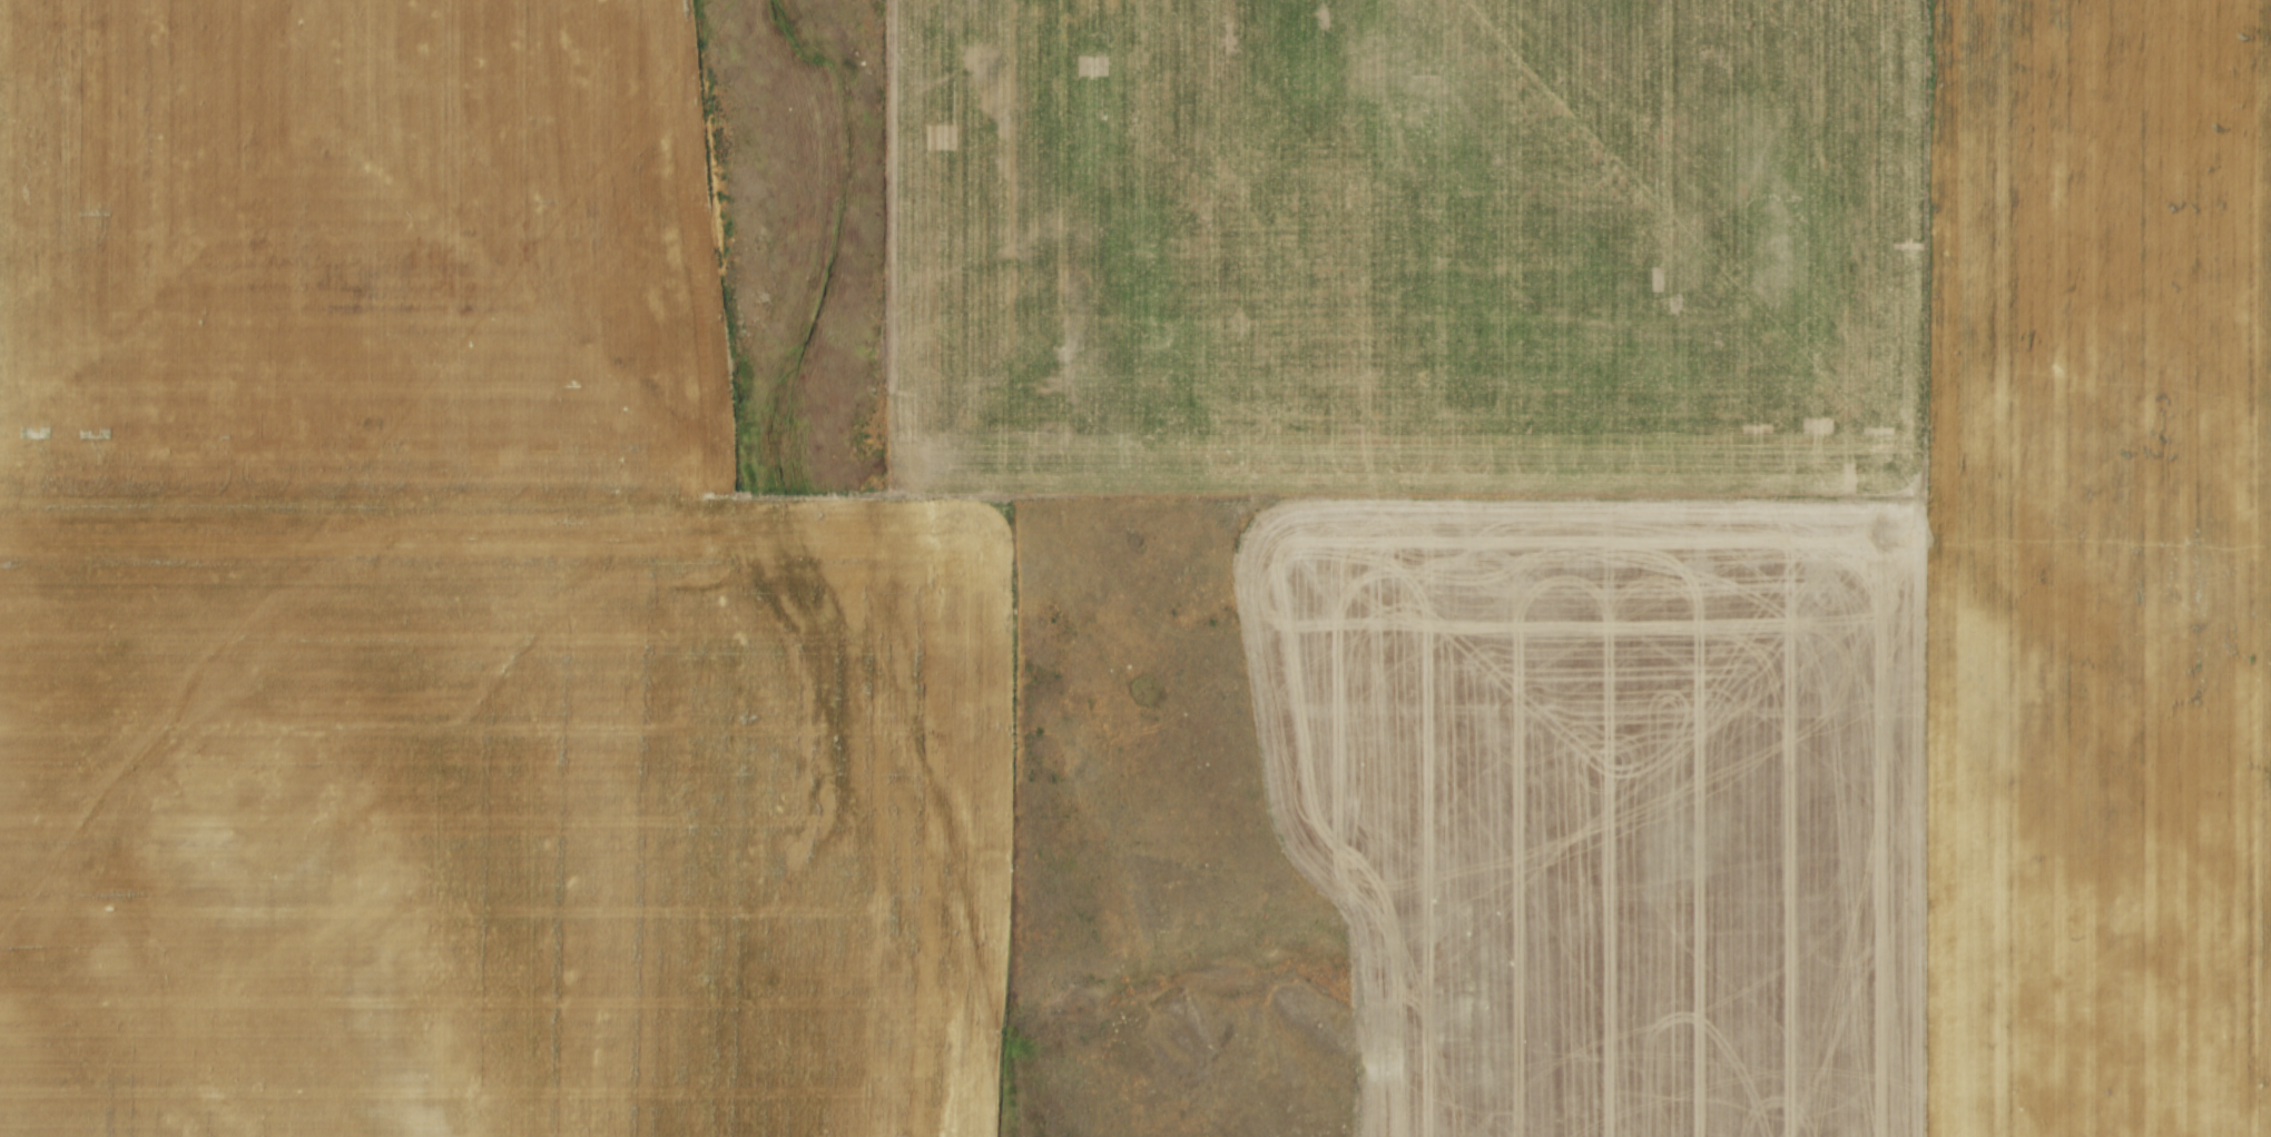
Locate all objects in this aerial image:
crop: (1147, 579)

